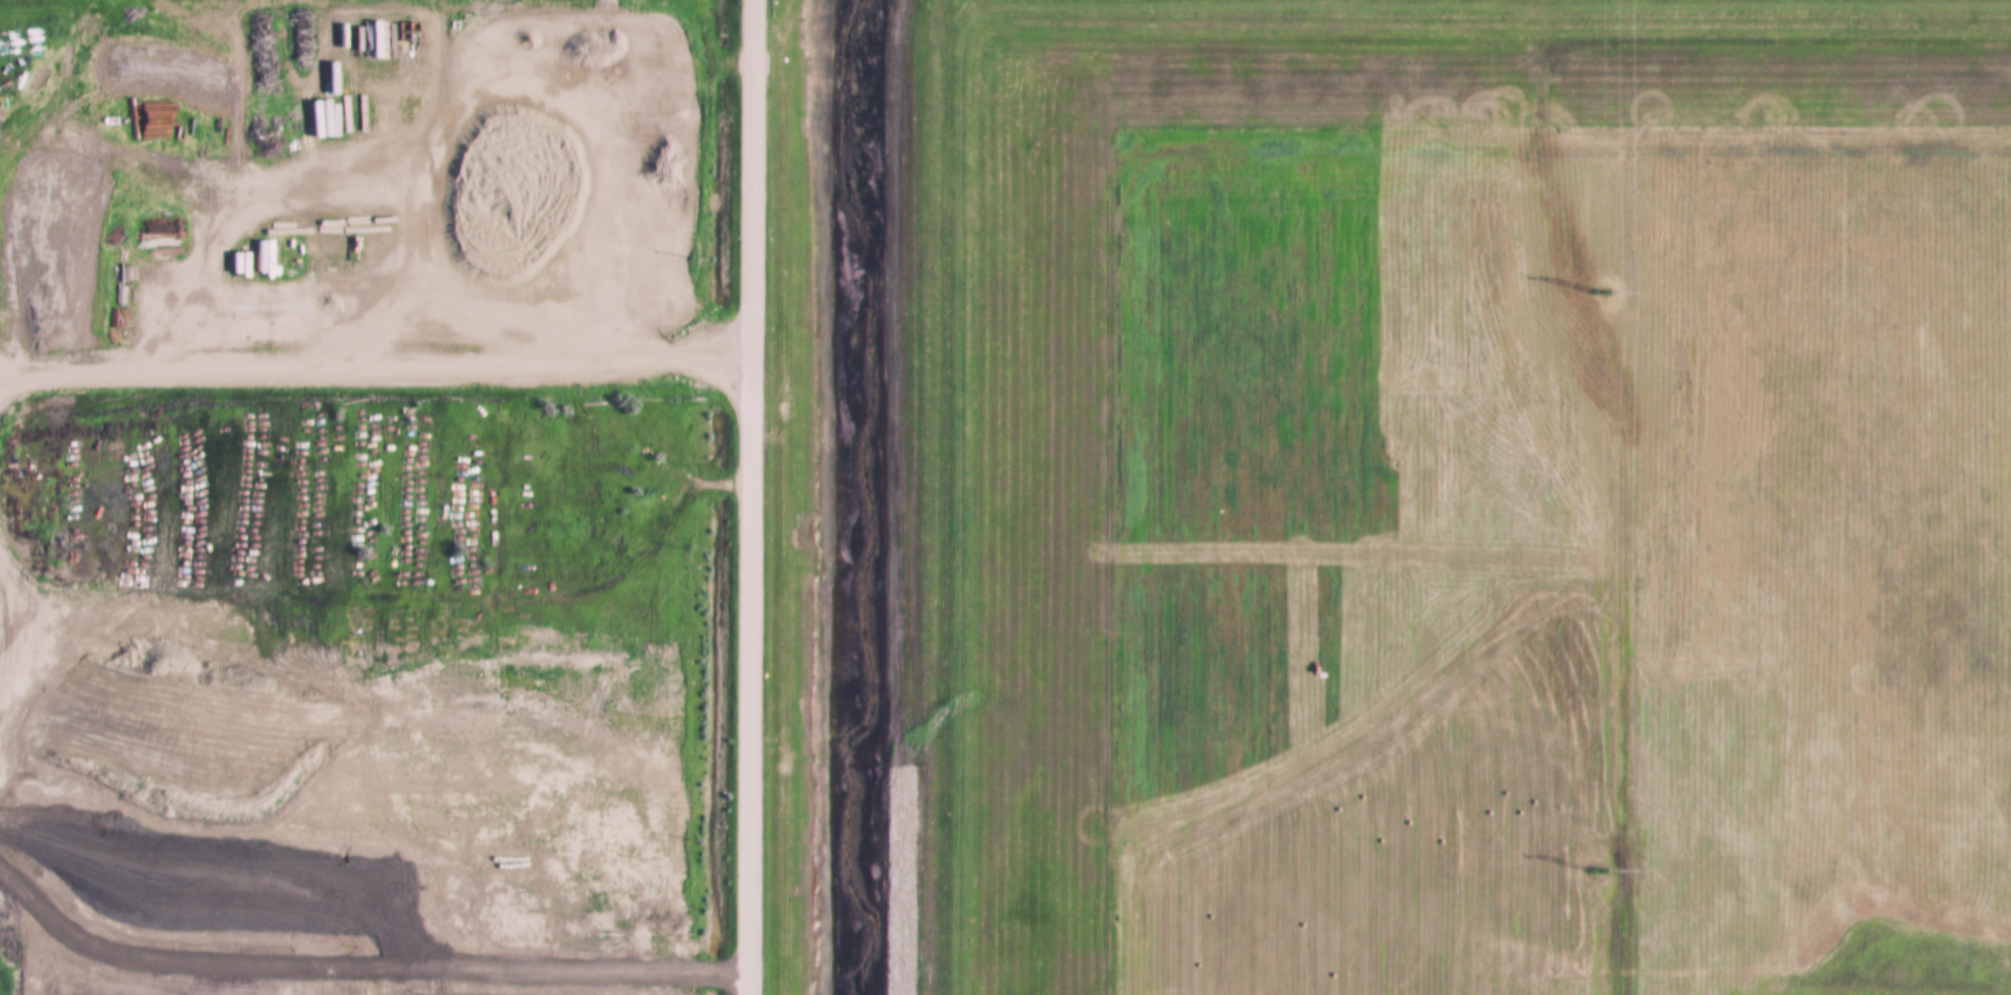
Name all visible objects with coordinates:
quarry: (1, 189)
power tower: (1597, 294)
road: (661, 333)
road: (751, 497)
crop: (1480, 500)
power tower: (1598, 873)

